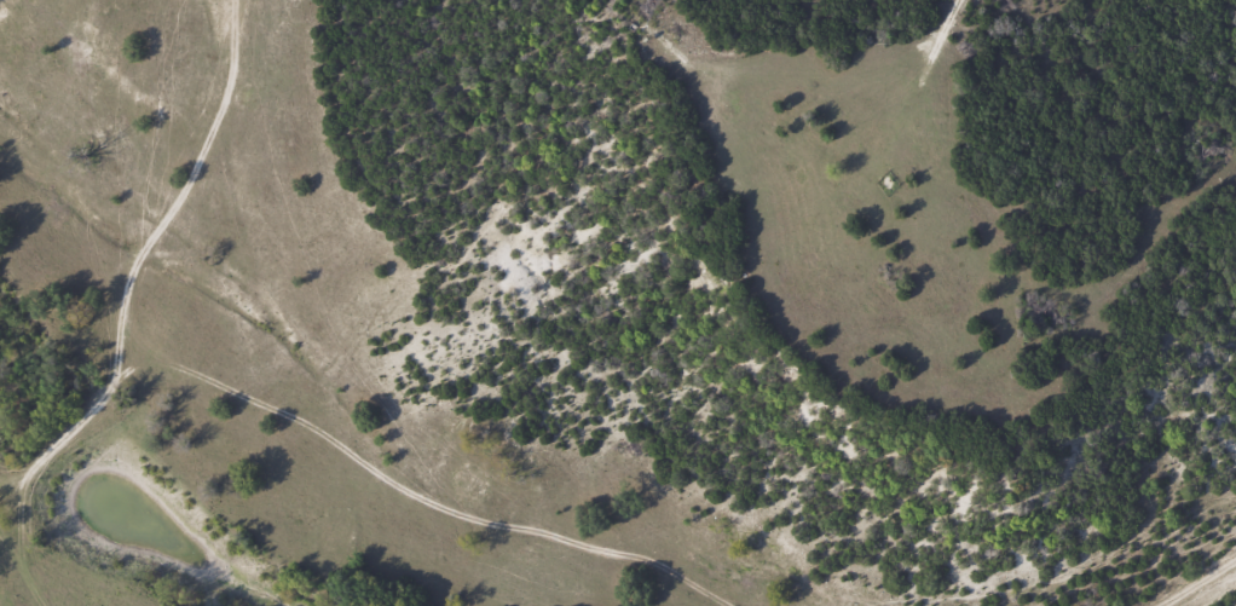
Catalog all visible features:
road: (138, 348)

